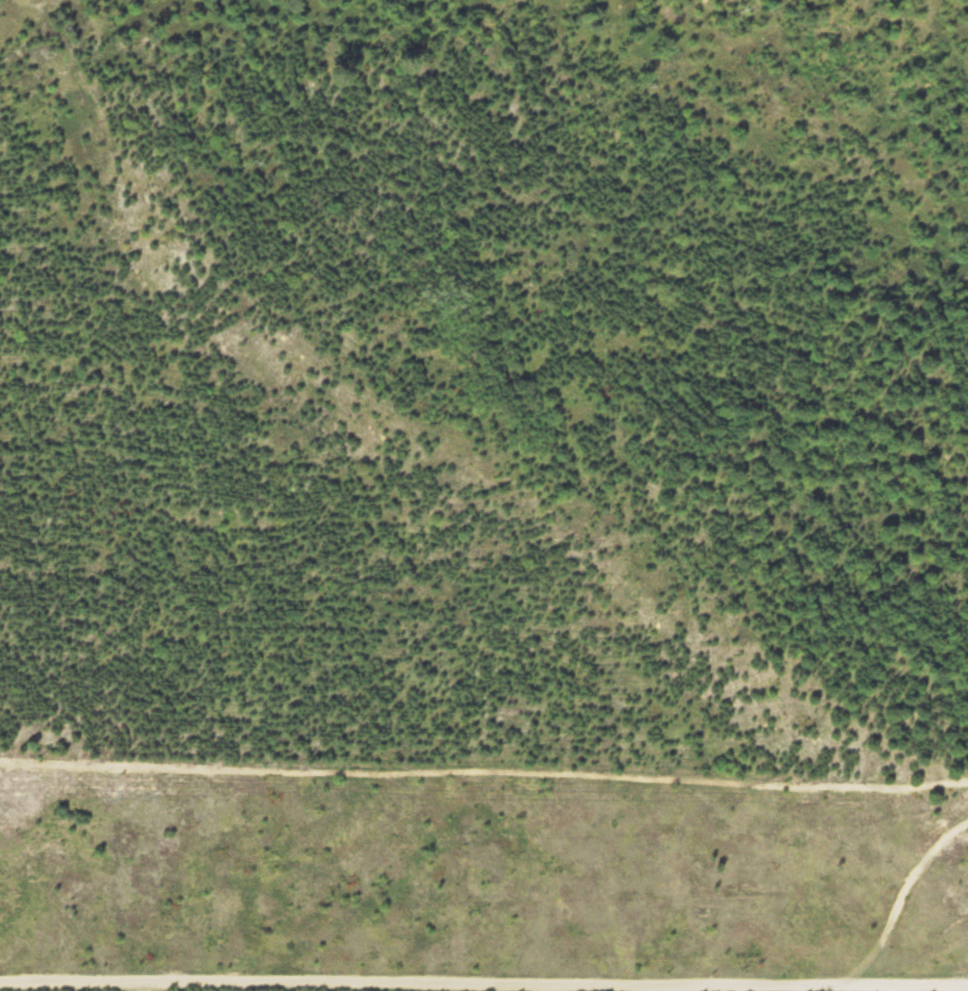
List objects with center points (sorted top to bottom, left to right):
road: (65, 904)
road: (484, 981)

